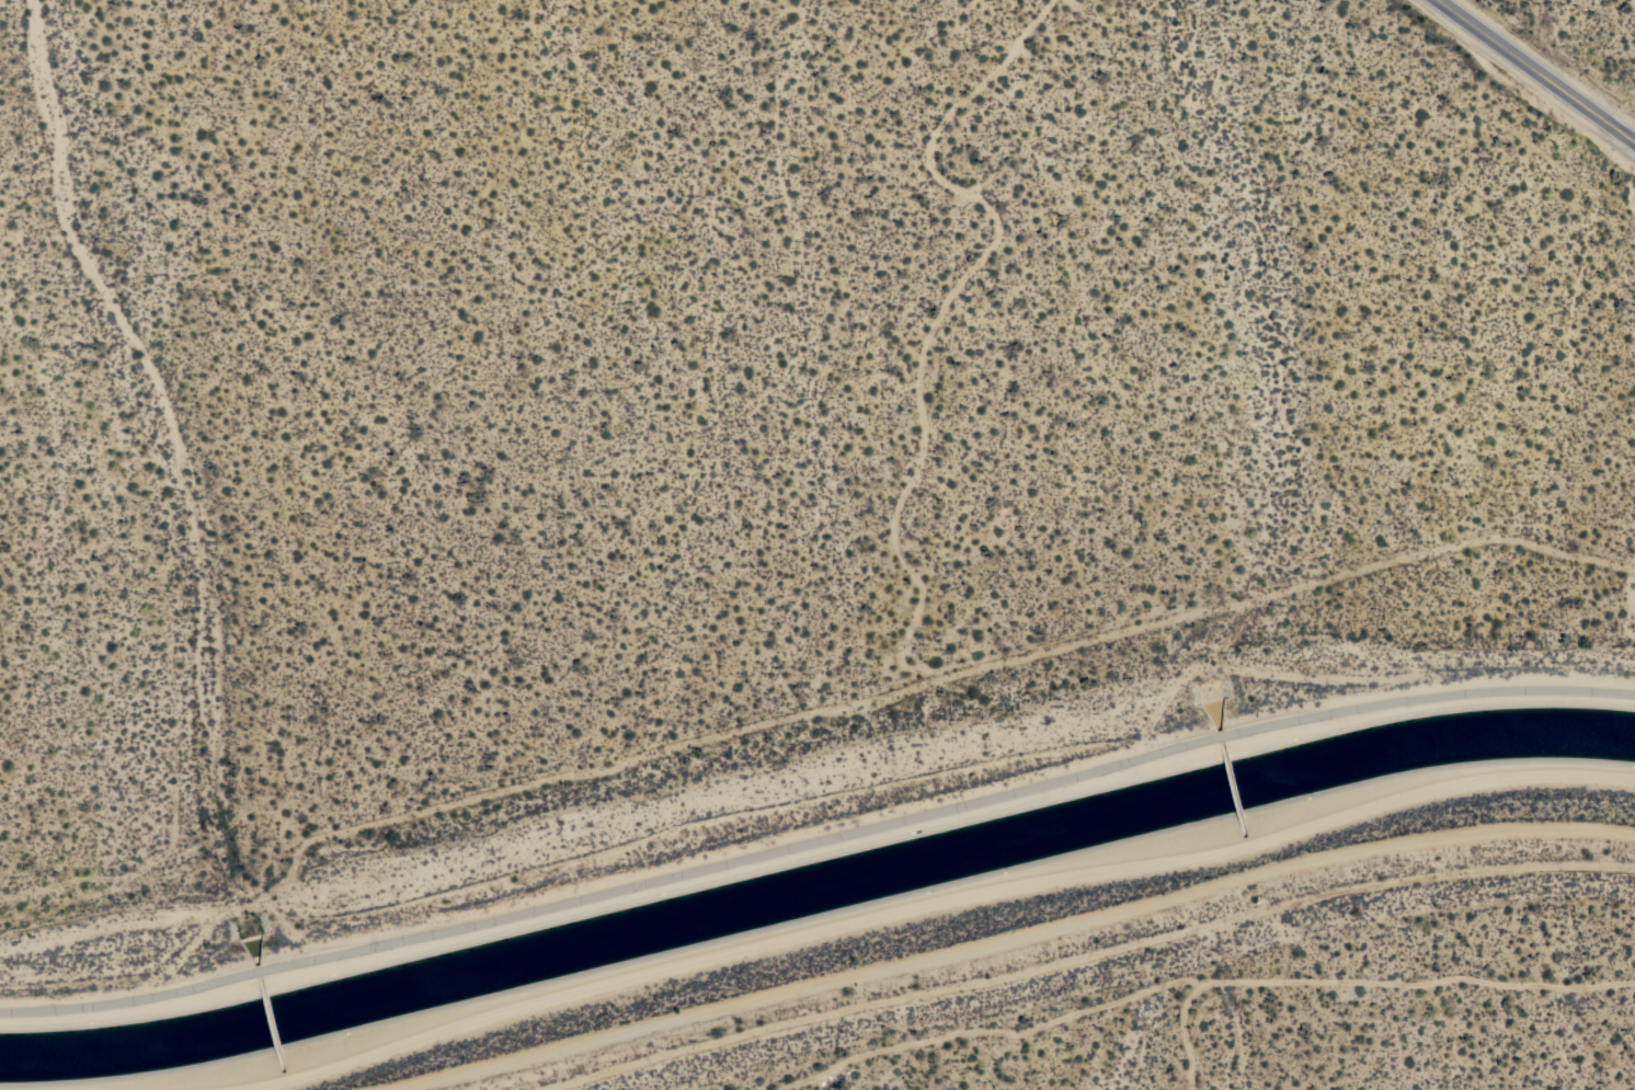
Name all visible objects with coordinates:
road: (1536, 69)
road: (1192, 973)

